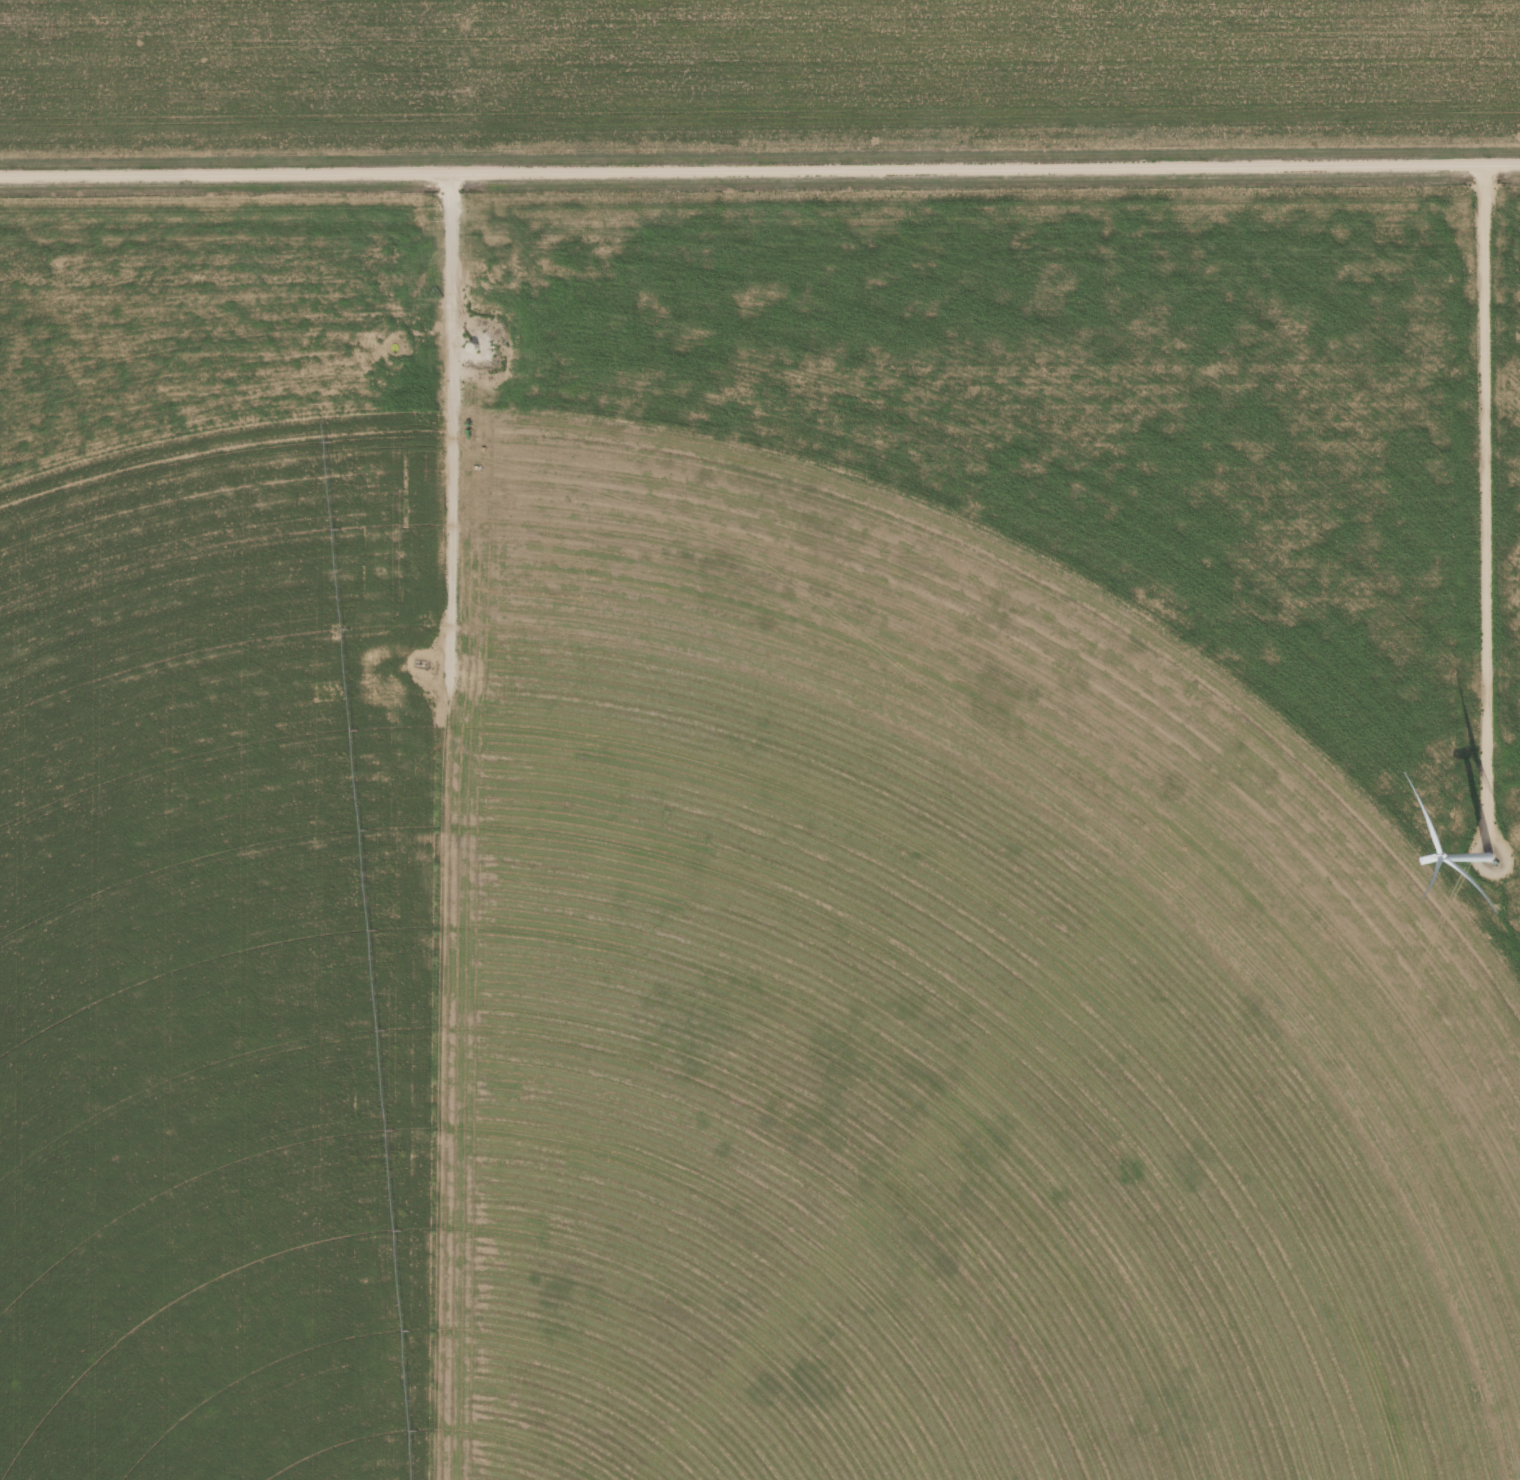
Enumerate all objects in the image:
road: (760, 165)
wind turbine: (1483, 856)

